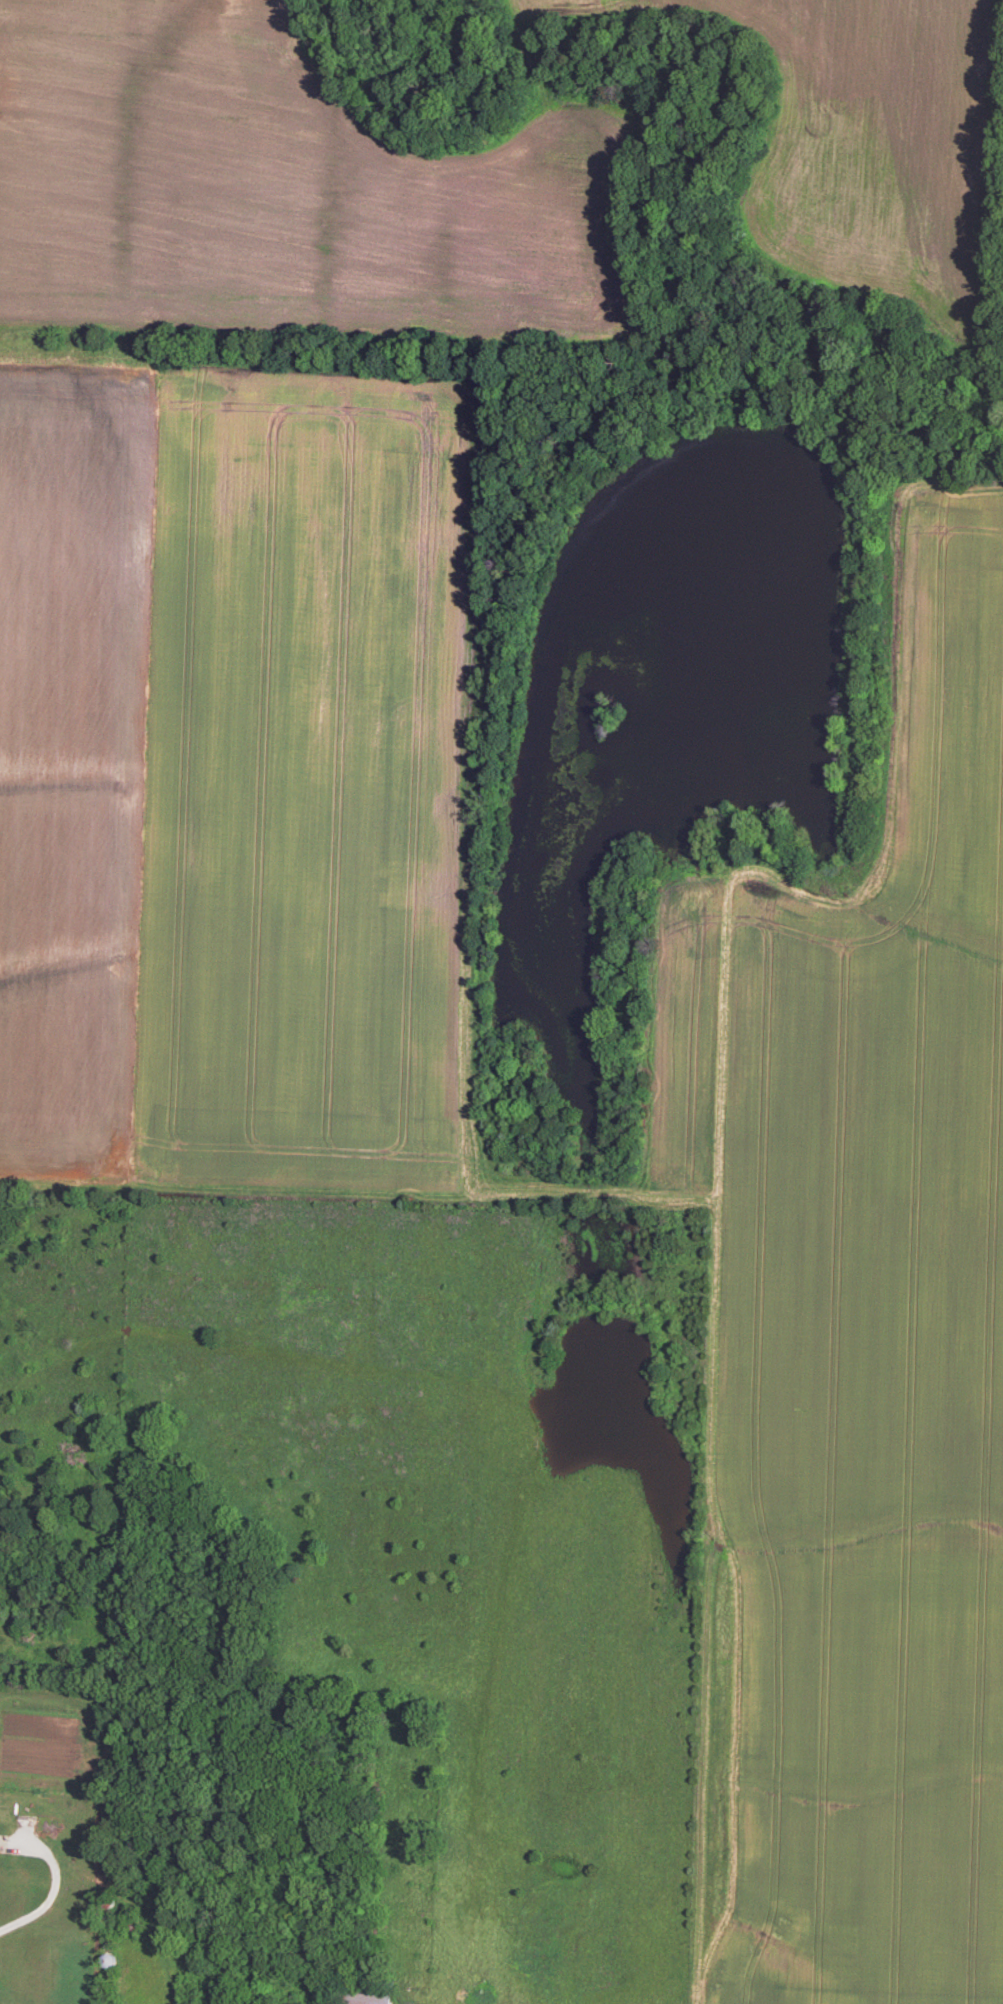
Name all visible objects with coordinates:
road: (51, 1891)

